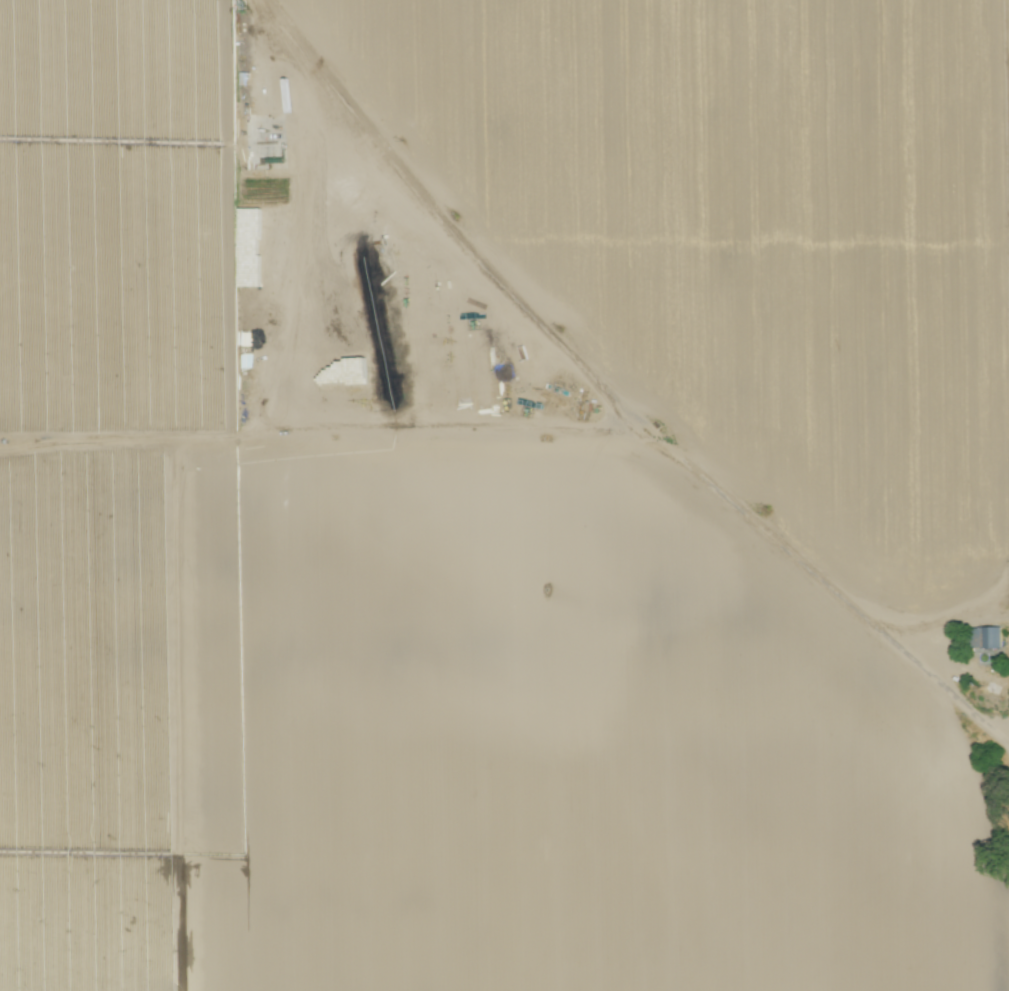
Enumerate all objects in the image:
road: (611, 397)
building: (984, 637)

